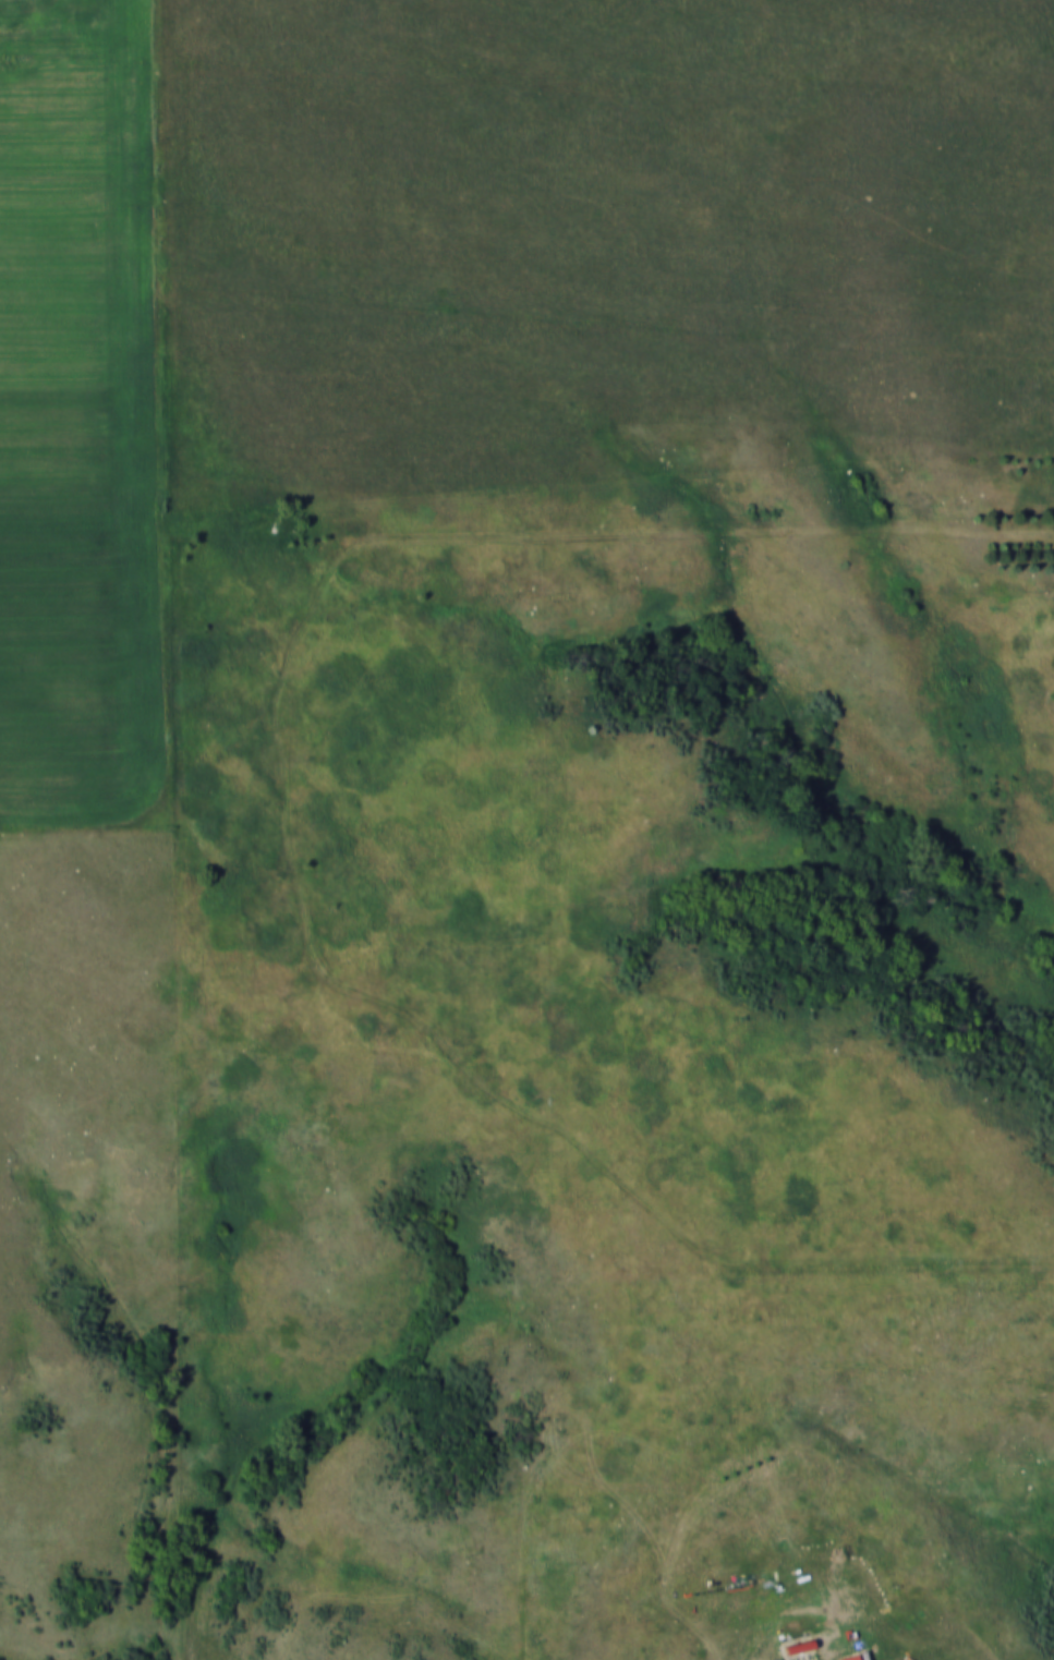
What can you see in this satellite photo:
road: (1000, 480)

